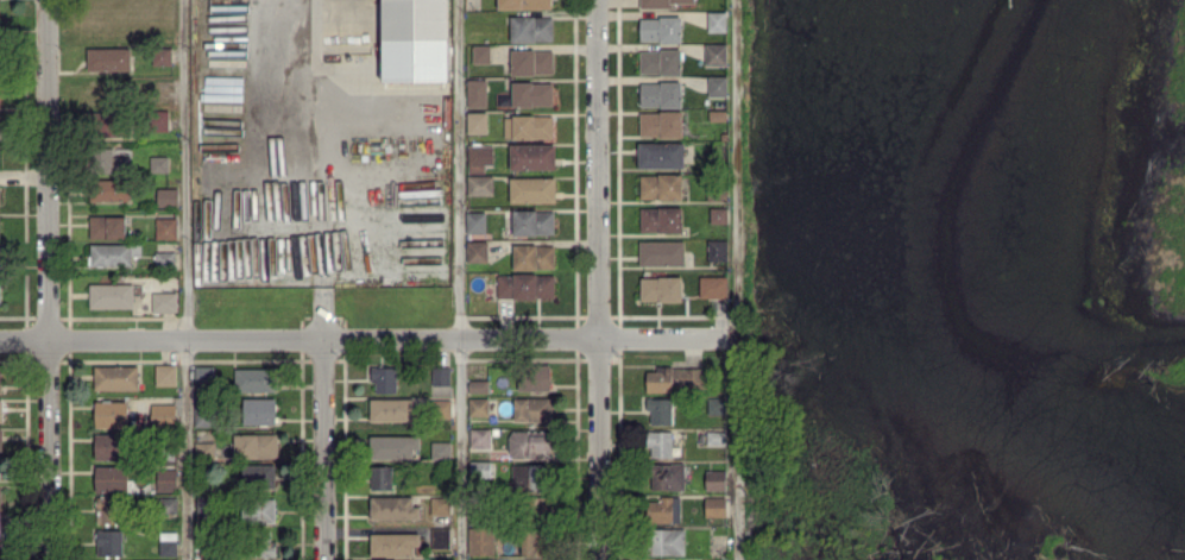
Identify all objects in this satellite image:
building: (662, 2)
building: (524, 4)
building: (716, 21)
building: (531, 29)
building: (660, 29)
building: (415, 40)
building: (480, 54)
road: (308, 55)
building: (716, 55)
building: (160, 56)
building: (108, 58)
building: (660, 61)
building: (531, 62)
building: (717, 86)
building: (475, 93)
building: (531, 94)
building: (661, 94)
building: (158, 120)
building: (477, 122)
building: (661, 124)
building: (532, 126)
building: (661, 156)
building: (531, 157)
building: (478, 158)
building: (114, 161)
building: (158, 163)
road: (597, 168)
road: (46, 170)
building: (479, 184)
building: (661, 187)
building: (531, 190)
building: (109, 193)
building: (166, 196)
building: (718, 215)
building: (661, 220)
building: (474, 222)
building: (532, 222)
building: (107, 227)
building: (165, 227)
building: (717, 250)
building: (475, 251)
building: (661, 252)
building: (112, 254)
building: (532, 257)
building: (164, 258)
road: (184, 279)
road: (460, 279)
road: (740, 279)
building: (525, 285)
building: (712, 287)
building: (661, 289)
building: (111, 295)
building: (164, 302)
building: (0, 303)
road: (370, 338)
building: (165, 375)
building: (203, 375)
building: (440, 376)
building: (534, 377)
building: (115, 378)
building: (673, 378)
building: (0, 379)
building: (383, 379)
building: (253, 380)
building: (477, 386)
building: (478, 407)
building: (442, 408)
building: (531, 409)
building: (391, 410)
building: (0, 411)
building: (259, 411)
building: (660, 411)
building: (111, 414)
building: (162, 415)
building: (479, 438)
building: (0, 439)
building: (529, 443)
building: (660, 445)
building: (256, 446)
building: (108, 447)
building: (393, 447)
road: (598, 448)
road: (48, 449)
road: (324, 449)
building: (440, 449)
building: (481, 468)
building: (258, 476)
building: (528, 476)
building: (382, 477)
building: (667, 477)
building: (111, 478)
building: (166, 479)
building: (440, 505)
building: (714, 506)
building: (258, 508)
building: (393, 509)
building: (107, 510)
building: (662, 510)
building: (108, 542)
building: (667, 542)
building: (168, 543)
building: (393, 543)
building: (266, 548)
building: (720, 559)

